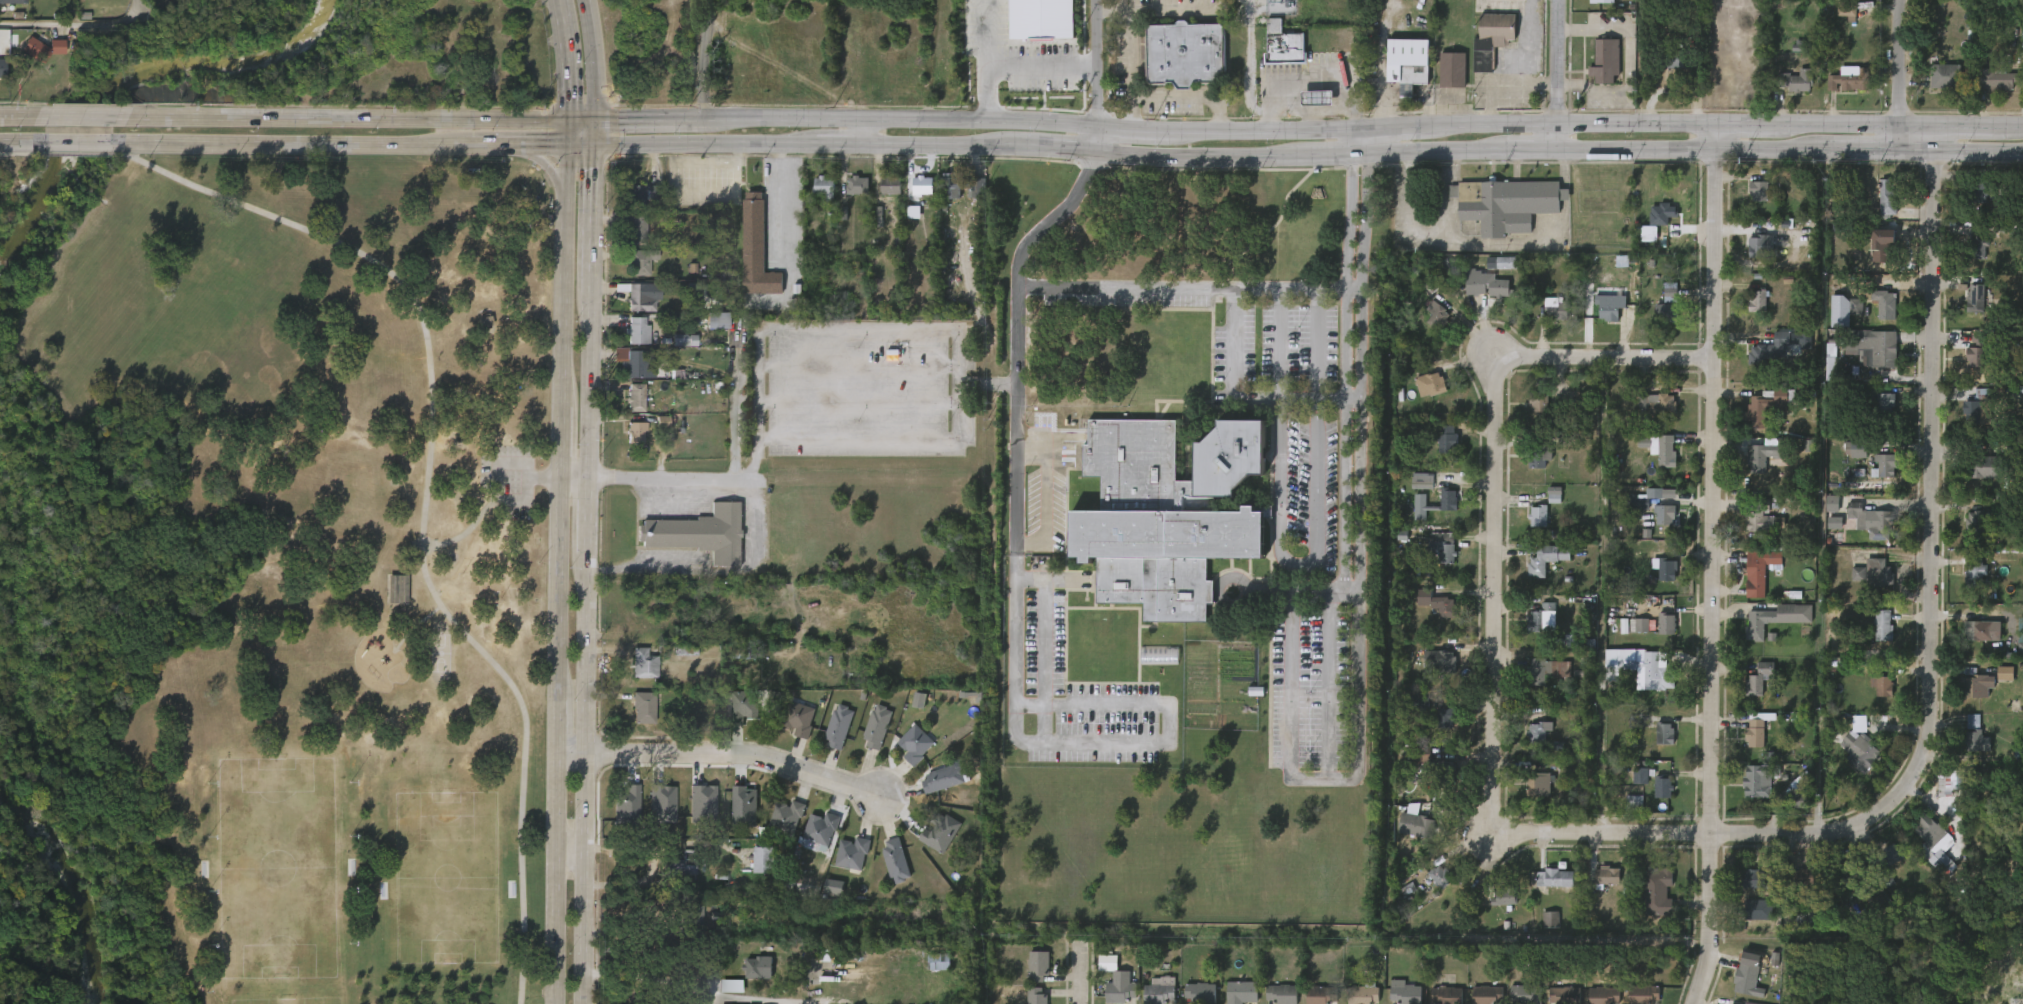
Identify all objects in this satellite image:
building: (13, 1)
building: (1947, 1)
building: (1601, 2)
building: (33, 3)
building: (82, 4)
road: (1107, 8)
building: (1847, 11)
building: (1837, 24)
road: (75, 25)
building: (1032, 26)
building: (1491, 39)
road: (980, 43)
building: (1282, 46)
building: (34, 49)
building: (1187, 54)
road: (1519, 55)
building: (1403, 56)
road: (564, 59)
road: (594, 59)
road: (705, 59)
building: (1673, 60)
building: (32, 62)
building: (1605, 62)
road: (1546, 63)
road: (1629, 63)
road: (1128, 66)
building: (2, 69)
building: (1451, 70)
building: (1665, 75)
road: (1015, 76)
road: (1888, 76)
road: (1099, 77)
building: (1946, 77)
building: (1997, 78)
building: (1798, 80)
building: (1848, 80)
building: (1442, 82)
building: (1935, 89)
building: (1989, 93)
building: (1789, 94)
building: (1839, 94)
road: (1189, 97)
building: (1316, 99)
road: (1484, 99)
road: (27, 116)
road: (86, 117)
road: (343, 117)
traffic signals: (567, 120)
road: (581, 120)
traffic signals: (596, 120)
road: (1743, 125)
road: (1854, 125)
road: (1972, 125)
road: (2014, 126)
road: (1156, 131)
road: (596, 133)
road: (859, 133)
road: (26, 143)
road: (83, 144)
road: (289, 146)
road: (531, 146)
traffic signals: (567, 146)
road: (581, 146)
traffic signals: (596, 146)
road: (479, 147)
road: (1359, 147)
road: (9, 152)
road: (69, 153)
road: (1309, 154)
road: (566, 157)
road: (537, 160)
road: (1565, 170)
building: (856, 184)
building: (889, 184)
building: (921, 184)
building: (953, 185)
building: (823, 186)
building: (1759, 190)
building: (1982, 190)
building: (643, 193)
road: (1565, 193)
building: (848, 198)
building: (913, 198)
building: (1885, 198)
building: (815, 199)
building: (881, 199)
building: (942, 200)
building: (967, 202)
building: (1506, 203)
road: (771, 204)
building: (1749, 204)
building: (1975, 204)
building: (628, 207)
building: (1876, 208)
road: (1050, 218)
building: (637, 228)
road: (1423, 239)
building: (627, 241)
road: (1515, 244)
building: (1766, 247)
building: (1978, 247)
building: (754, 248)
building: (1883, 250)
building: (1751, 258)
building: (641, 261)
building: (1970, 261)
building: (1510, 263)
building: (1873, 263)
building: (631, 274)
building: (1487, 284)
road: (1115, 288)
road: (1298, 289)
building: (636, 296)
building: (1476, 297)
building: (1976, 297)
building: (1759, 301)
building: (1882, 303)
building: (1609, 305)
building: (1555, 308)
building: (634, 309)
building: (1666, 310)
building: (1966, 310)
building: (1747, 313)
building: (1439, 315)
building: (1875, 316)
building: (1600, 319)
building: (1545, 320)
building: (1657, 323)
building: (1427, 328)
building: (635, 329)
building: (629, 343)
road: (1276, 344)
road: (1307, 344)
building: (1874, 345)
building: (1769, 348)
building: (1974, 351)
road: (1610, 356)
building: (1767, 359)
building: (632, 360)
building: (1862, 361)
building: (1966, 364)
building: (625, 374)
building: (1429, 384)
parking lot: (861, 388)
building: (634, 397)
building: (1420, 397)
building: (1538, 401)
building: (1768, 402)
building: (1885, 402)
building: (1660, 404)
building: (627, 409)
building: (1528, 413)
building: (1977, 413)
building: (1875, 416)
building: (1648, 417)
building: (1755, 419)
building: (634, 431)
building: (654, 434)
building: (1447, 437)
building: (627, 445)
building: (1437, 451)
building: (1669, 452)
building: (1769, 454)
building: (1542, 457)
building: (1650, 461)
building: (1984, 465)
building: (1754, 466)
building: (1886, 466)
road: (1938, 467)
building: (1528, 472)
road: (537, 479)
building: (1873, 479)
road: (722, 480)
building: (1973, 480)
building: (1424, 481)
parking lot: (511, 484)
building: (1412, 493)
building: (1450, 501)
road: (426, 503)
building: (1544, 507)
building: (1639, 509)
building: (1439, 512)
building: (1163, 513)
building: (1665, 514)
building: (1538, 516)
building: (1760, 517)
building: (1870, 517)
road: (474, 519)
building: (1973, 521)
building: (1654, 527)
building: (1528, 528)
building: (700, 532)
building: (1964, 533)
building: (1861, 534)
building: (1750, 536)
building: (1445, 545)
building: (1546, 558)
road: (1298, 562)
building: (1433, 564)
road: (1713, 565)
building: (1666, 570)
building: (1871, 571)
building: (1973, 571)
building: (1537, 572)
building: (1756, 573)
road: (589, 574)
park: (273, 579)
park: (272, 582)
road: (1495, 582)
building: (1656, 582)
building: (1749, 584)
building: (1964, 584)
road: (1349, 585)
building: (1868, 585)
building: (1848, 586)
building: (398, 588)
road: (1600, 594)
road: (561, 599)
building: (388, 601)
building: (1439, 602)
building: (1427, 616)
building: (1542, 616)
building: (1666, 624)
building: (1761, 624)
building: (1880, 624)
building: (1977, 629)
building: (1534, 631)
building: (1766, 631)
building: (1656, 636)
building: (1629, 637)
building: (1873, 637)
building: (1614, 638)
building: (1972, 643)
park: (440, 653)
building: (1437, 658)
building: (642, 663)
building: (1642, 667)
building: (1547, 670)
building: (635, 676)
building: (1759, 679)
building: (1629, 680)
building: (1534, 683)
building: (1881, 684)
building: (1976, 684)
building: (1994, 685)
building: (1874, 699)
building: (741, 706)
building: (642, 708)
building: (909, 712)
building: (1445, 718)
building: (797, 719)
building: (635, 720)
building: (733, 721)
building: (837, 727)
building: (875, 727)
building: (1436, 730)
building: (790, 731)
building: (1538, 732)
building: (1757, 732)
building: (1664, 734)
building: (1976, 742)
building: (913, 744)
road: (1092, 744)
building: (1528, 744)
building: (1655, 746)
building: (1744, 746)
building: (1861, 753)
building: (1966, 754)
road: (737, 755)
building: (906, 756)
building: (1850, 763)
road: (1290, 777)
building: (942, 779)
building: (1762, 779)
building: (1542, 783)
building: (1662, 787)
building: (1630, 789)
building: (932, 791)
building: (1746, 793)
building: (1941, 794)
building: (1526, 799)
building: (1653, 799)
building: (693, 815)
building: (653, 816)
building: (618, 818)
building: (734, 818)
building: (1419, 825)
building: (822, 828)
building: (778, 829)
building: (1926, 829)
road: (1689, 832)
building: (1404, 836)
road: (668, 843)
building: (810, 843)
building: (931, 845)
building: (1922, 849)
building: (854, 853)
road: (572, 856)
building: (1891, 856)
building: (897, 860)
building: (761, 861)
park: (279, 862)
building: (681, 865)
building: (843, 866)
building: (1884, 866)
park: (440, 871)
building: (753, 872)
building: (886, 872)
building: (1849, 872)
building: (1607, 876)
building: (1557, 877)
building: (1755, 878)
building: (672, 880)
building: (1805, 882)
building: (1430, 888)
building: (1596, 888)
building: (1545, 890)
building: (1661, 891)
building: (1504, 895)
building: (1646, 904)
building: (1494, 909)
building: (1756, 909)
building: (686, 919)
building: (1539, 930)
building: (937, 962)
building: (804, 966)
building: (1039, 966)
building: (759, 967)
building: (929, 974)
road: (1082, 975)
road: (648, 976)
building: (1028, 977)
building: (1750, 979)
building: (1736, 990)
building: (1159, 991)
building: (1240, 991)
building: (1366, 992)
building: (1119, 993)
building: (1199, 993)
building: (1281, 993)
building: (1525, 993)
building: (1642, 993)
building: (1320, 994)
building: (1405, 994)
building: (1446, 994)
building: (1486, 994)
building: (1036, 995)
building: (1564, 995)
building: (1603, 995)
park: (293, 1000)

